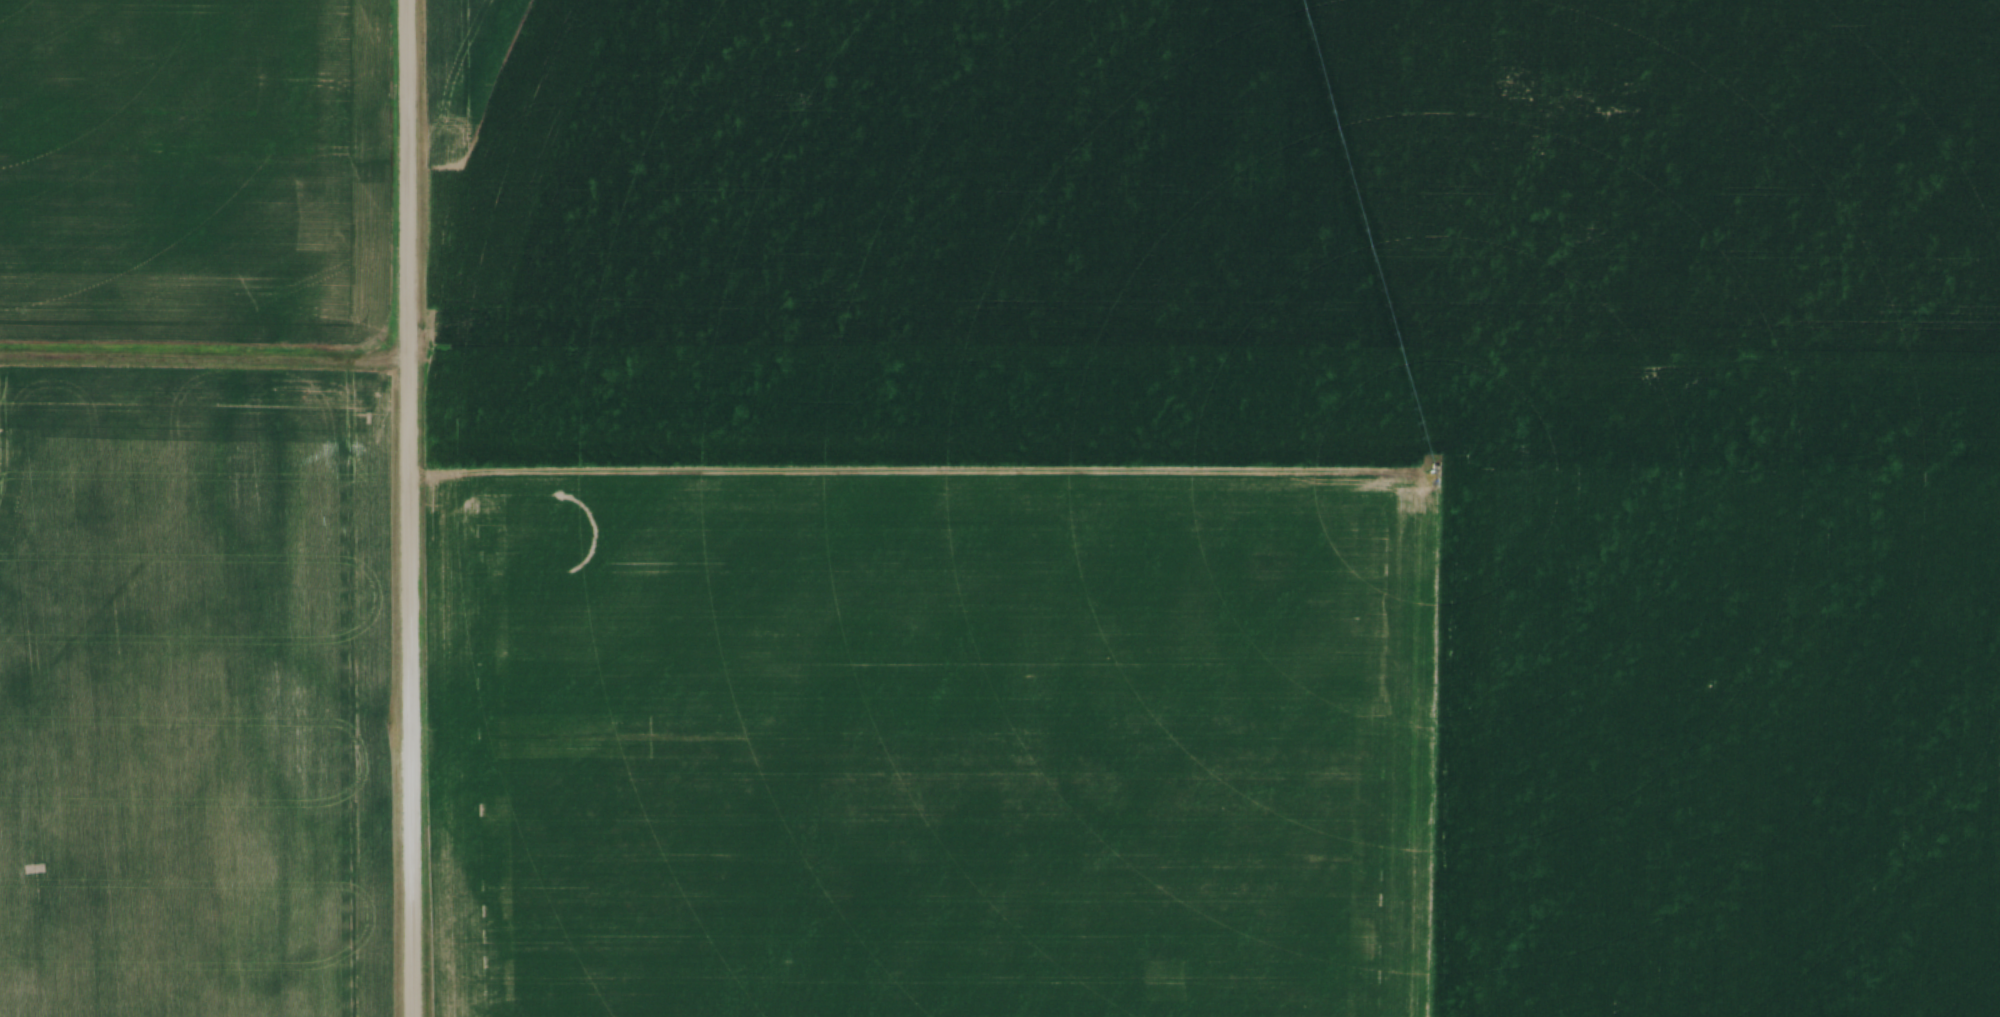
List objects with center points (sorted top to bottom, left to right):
road: (203, 365)
road: (408, 508)

